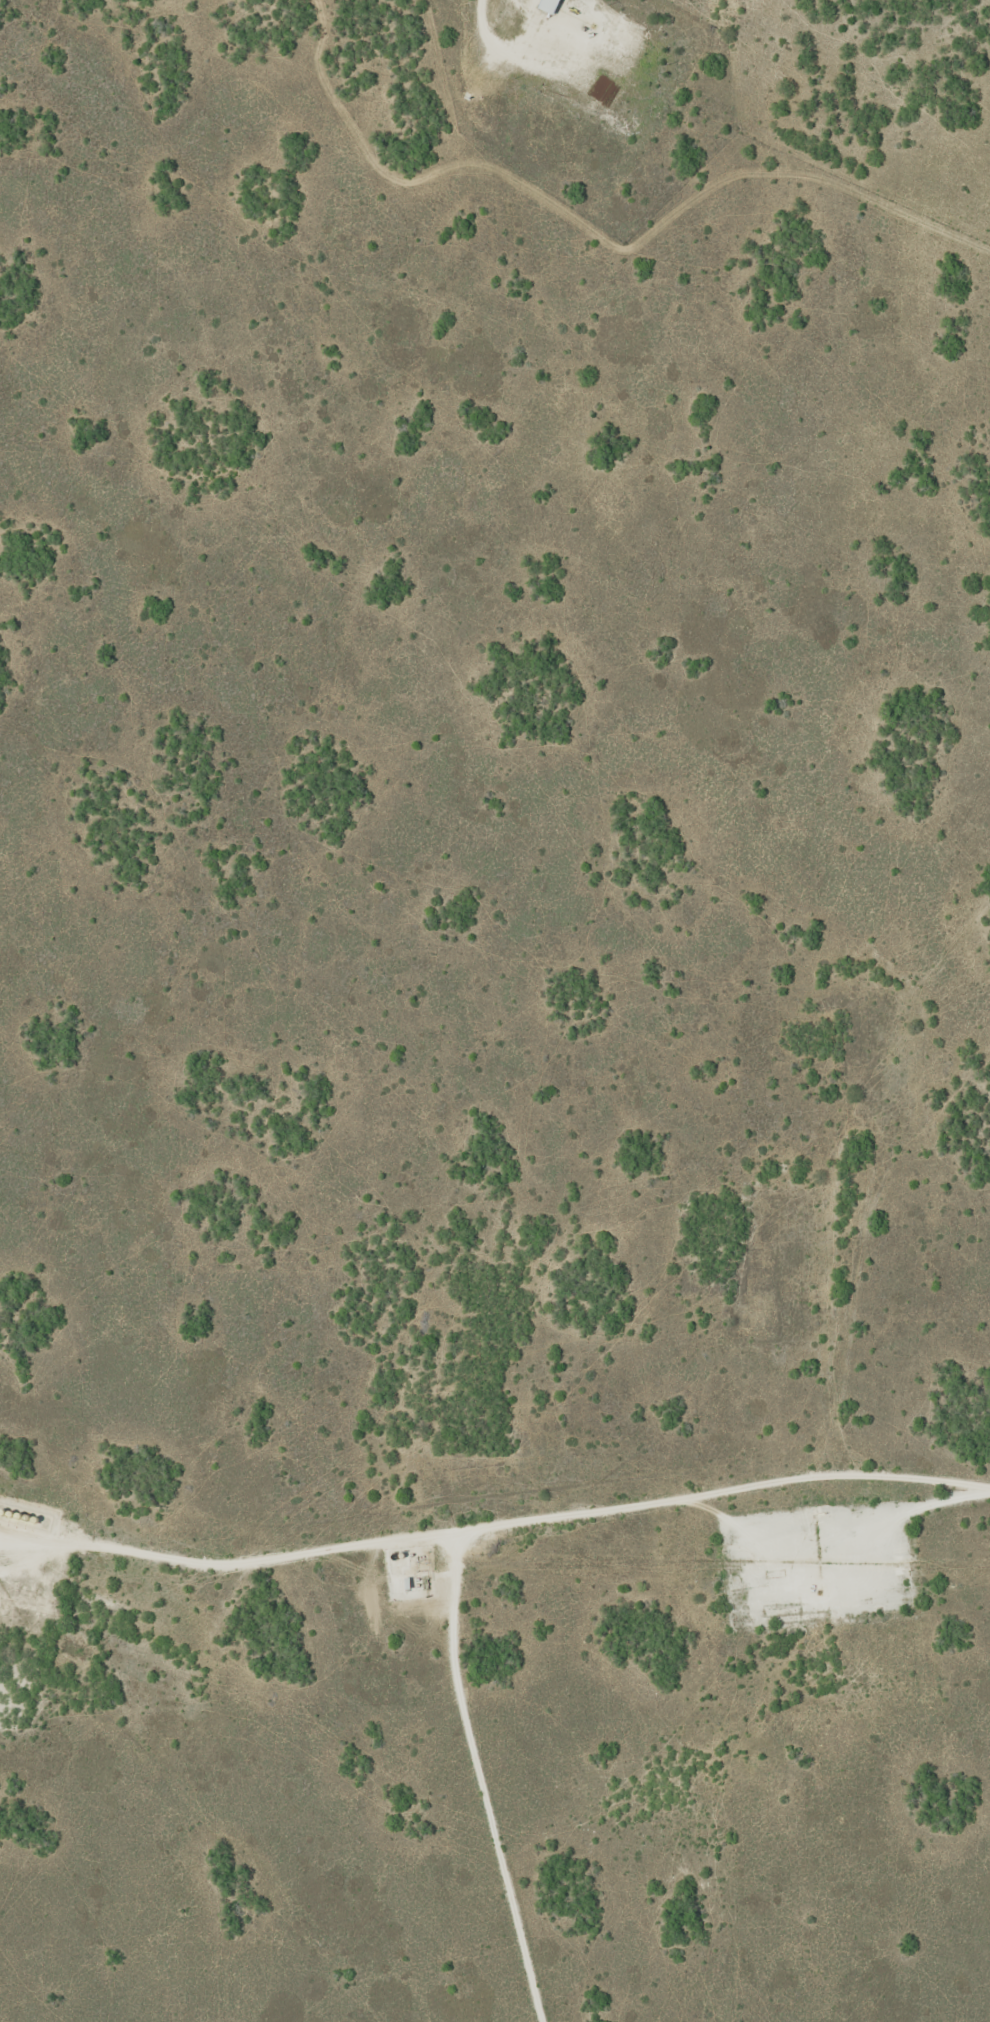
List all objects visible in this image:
building: (552, 5)

